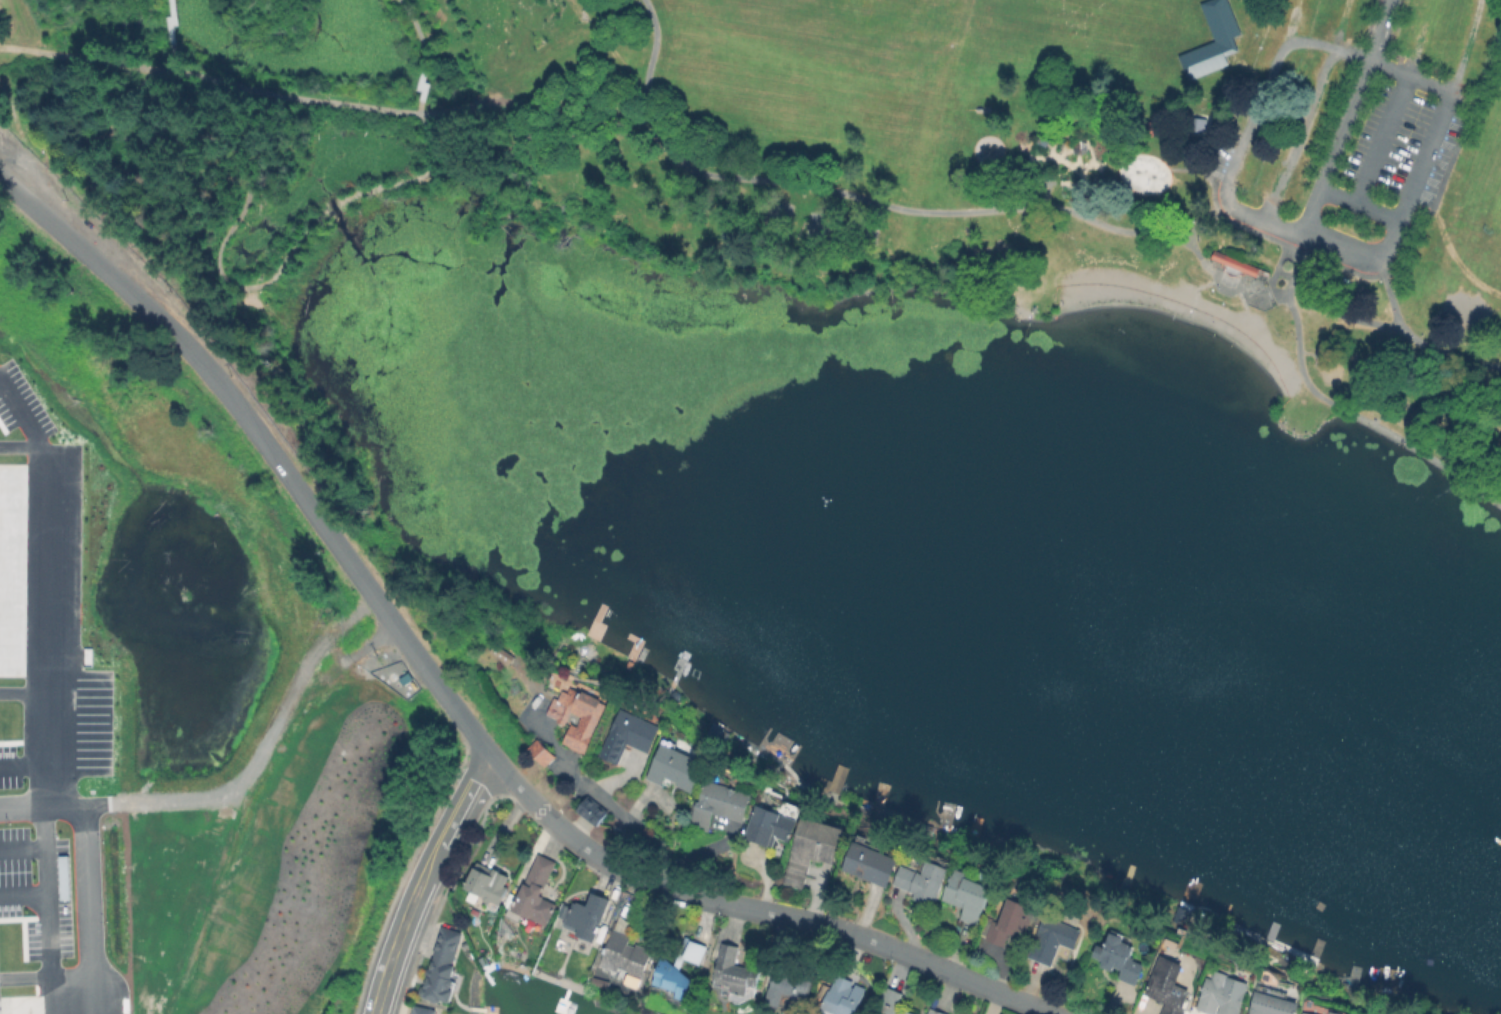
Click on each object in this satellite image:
building: (1490, 10)
road: (1290, 20)
road: (1339, 23)
road: (414, 26)
road: (170, 35)
road: (1420, 36)
building: (1226, 39)
road: (1318, 42)
road: (1465, 46)
road: (79, 56)
road: (531, 66)
road: (1486, 67)
road: (1411, 73)
road: (418, 86)
road: (1346, 116)
building: (1195, 120)
road: (1249, 124)
building: (1147, 126)
parking lot: (1288, 128)
road: (1298, 131)
road: (1383, 135)
parking lot: (1401, 144)
building: (1079, 146)
road: (1424, 153)
road: (1120, 165)
park: (804, 185)
road: (1080, 188)
road: (1359, 199)
road: (884, 203)
road: (334, 206)
road: (1203, 215)
road: (1258, 215)
road: (1361, 253)
building: (1235, 262)
road: (1209, 282)
road: (1243, 296)
park: (1465, 310)
road: (1341, 314)
road: (1415, 336)
road: (1338, 404)
road: (52, 694)
road: (449, 702)
building: (590, 719)
building: (629, 735)
building: (542, 751)
road: (258, 760)
road: (26, 765)
building: (677, 767)
building: (720, 803)
building: (590, 810)
road: (623, 819)
building: (770, 825)
road: (21, 848)
building: (812, 849)
building: (869, 864)
road: (87, 874)
road: (421, 879)
building: (923, 880)
building: (487, 881)
road: (23, 893)
building: (535, 895)
building: (967, 896)
building: (588, 916)
building: (1011, 923)
building: (1053, 939)
building: (625, 954)
building: (1119, 957)
building: (442, 969)
building: (677, 969)
building: (732, 971)
building: (1167, 986)
building: (788, 988)
building: (1270, 991)
building: (0, 992)
building: (1219, 995)
building: (838, 997)
building: (888, 1002)
building: (1271, 1004)
building: (421, 1011)
building: (934, 1012)
building: (1333, 1012)
building: (1303, 1013)

